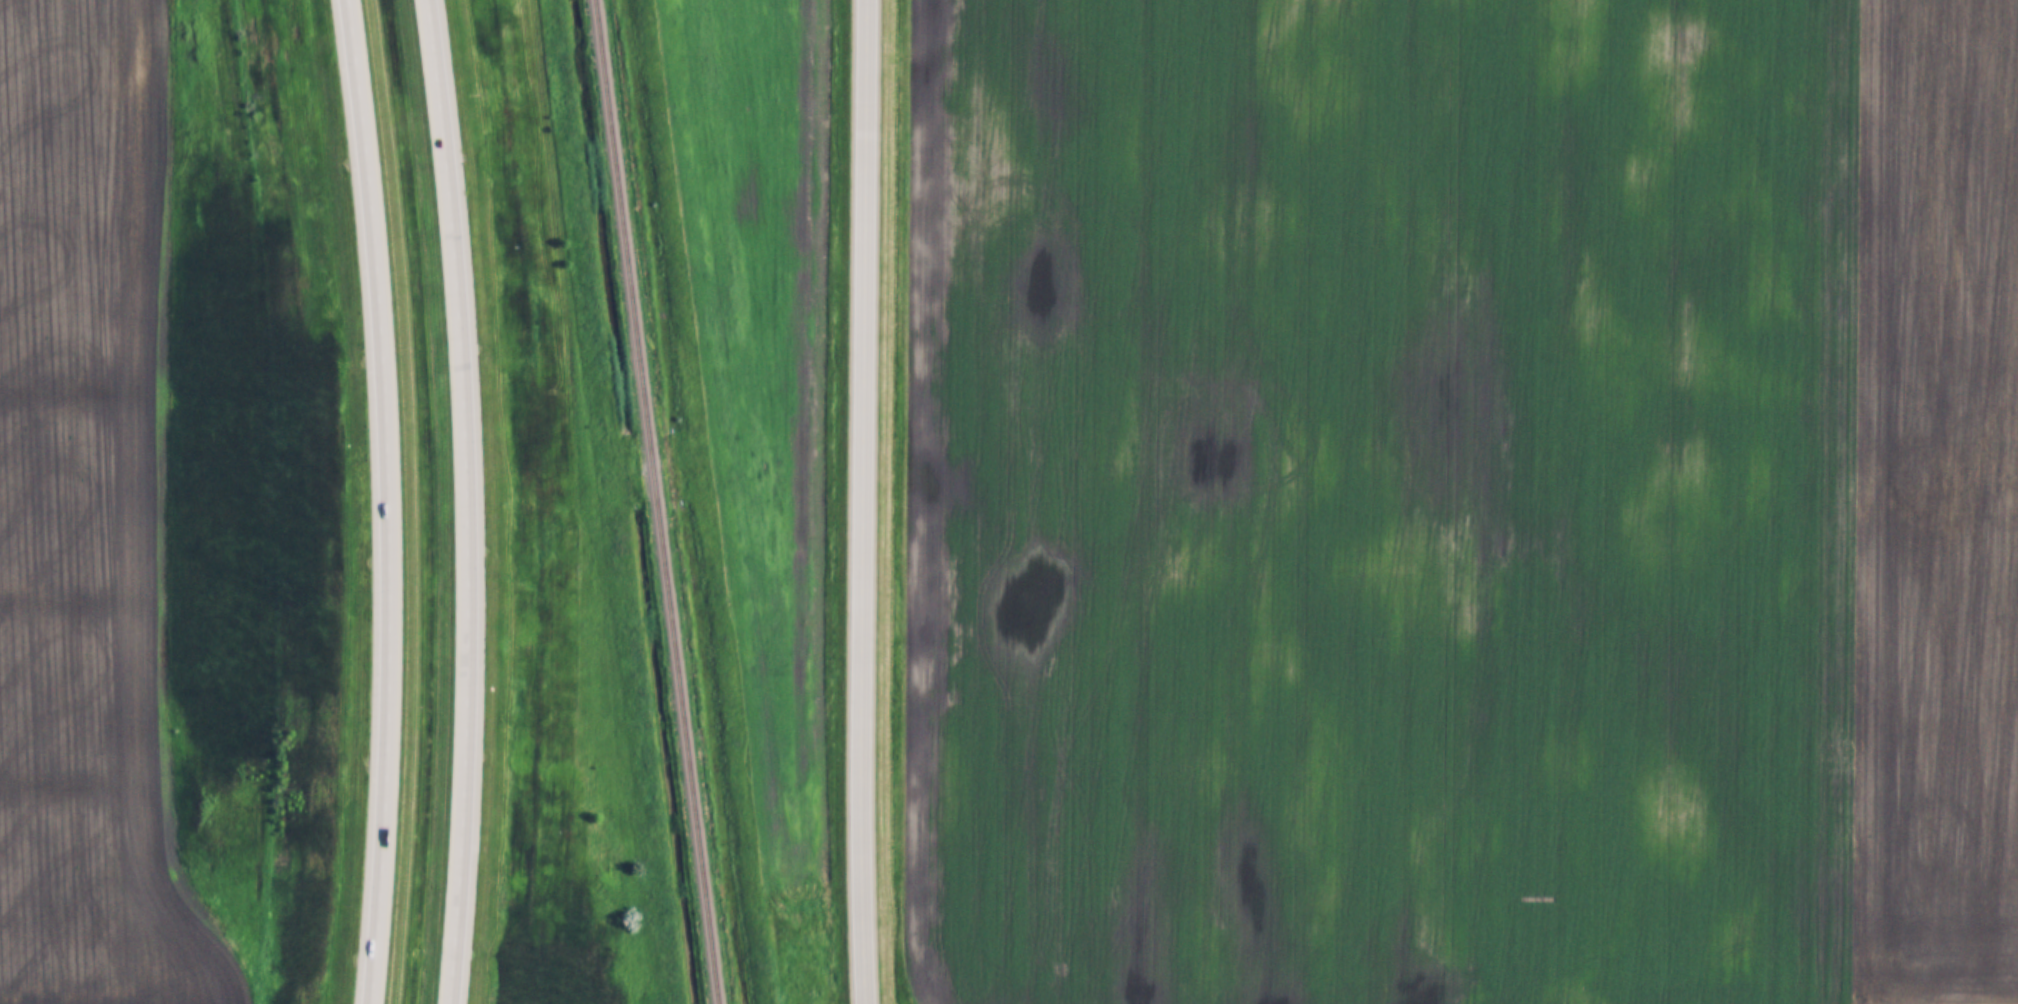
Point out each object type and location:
road: (866, 457)
road: (386, 501)
road: (465, 501)
railway: (654, 502)
road: (868, 959)

